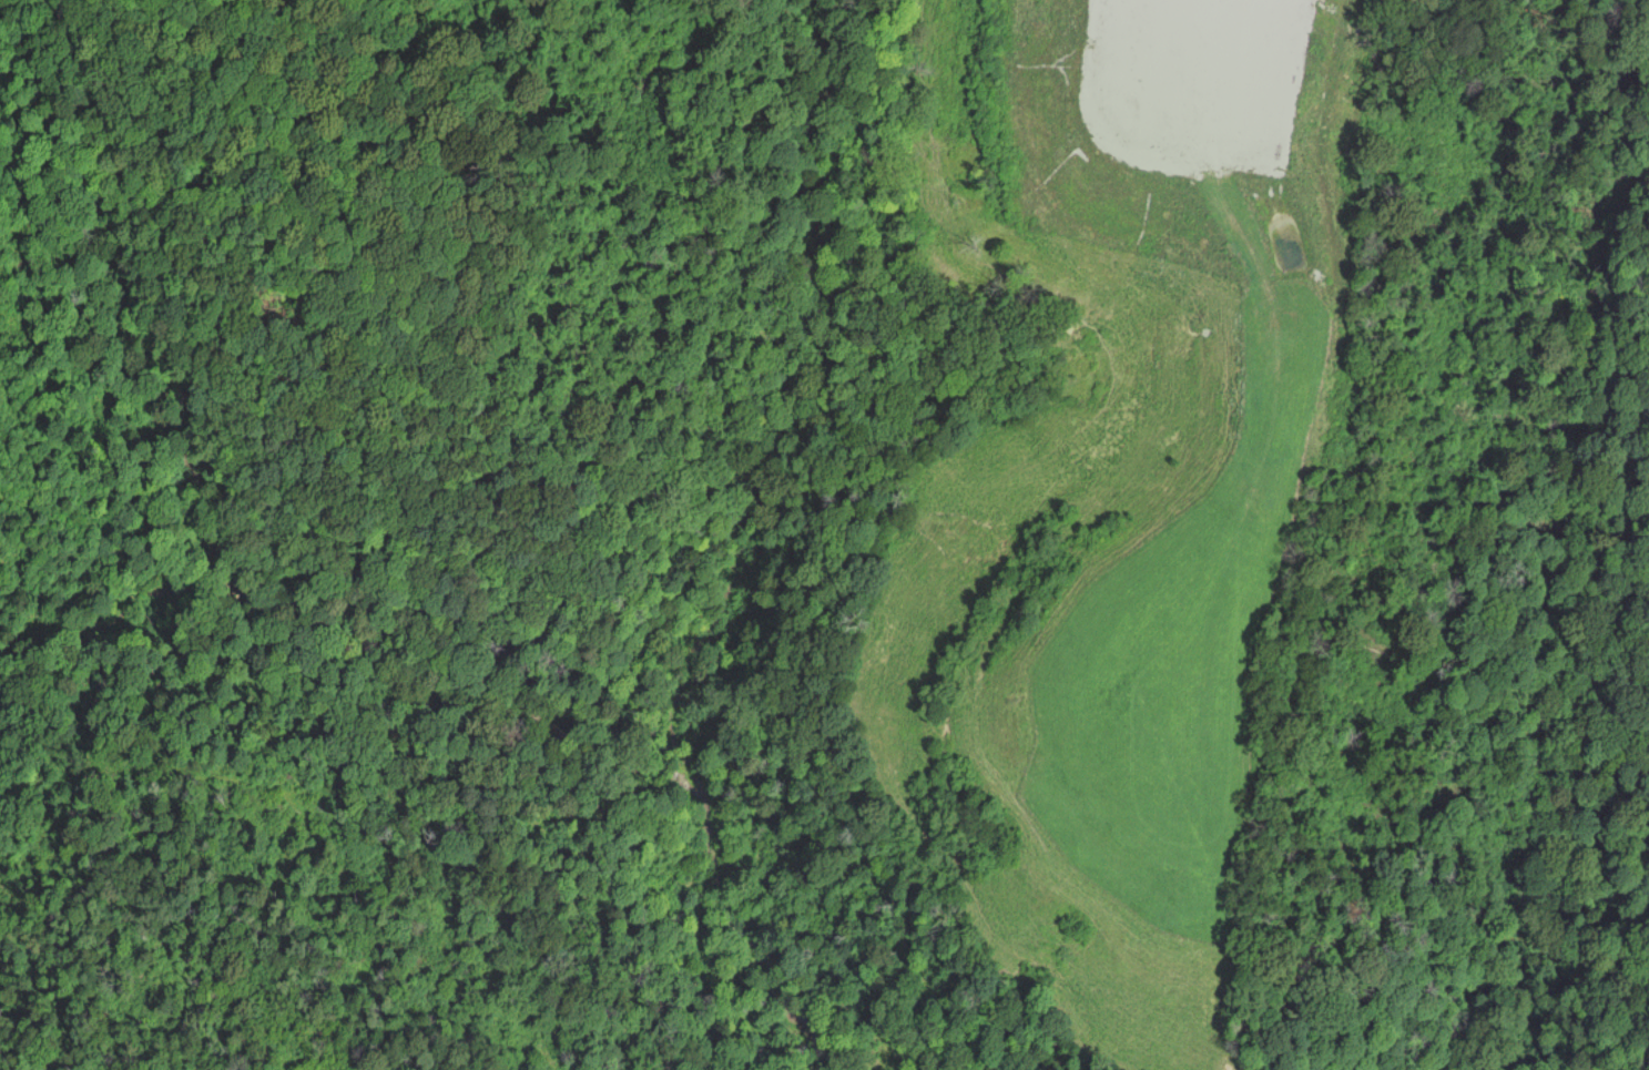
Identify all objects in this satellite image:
road: (1151, 59)

